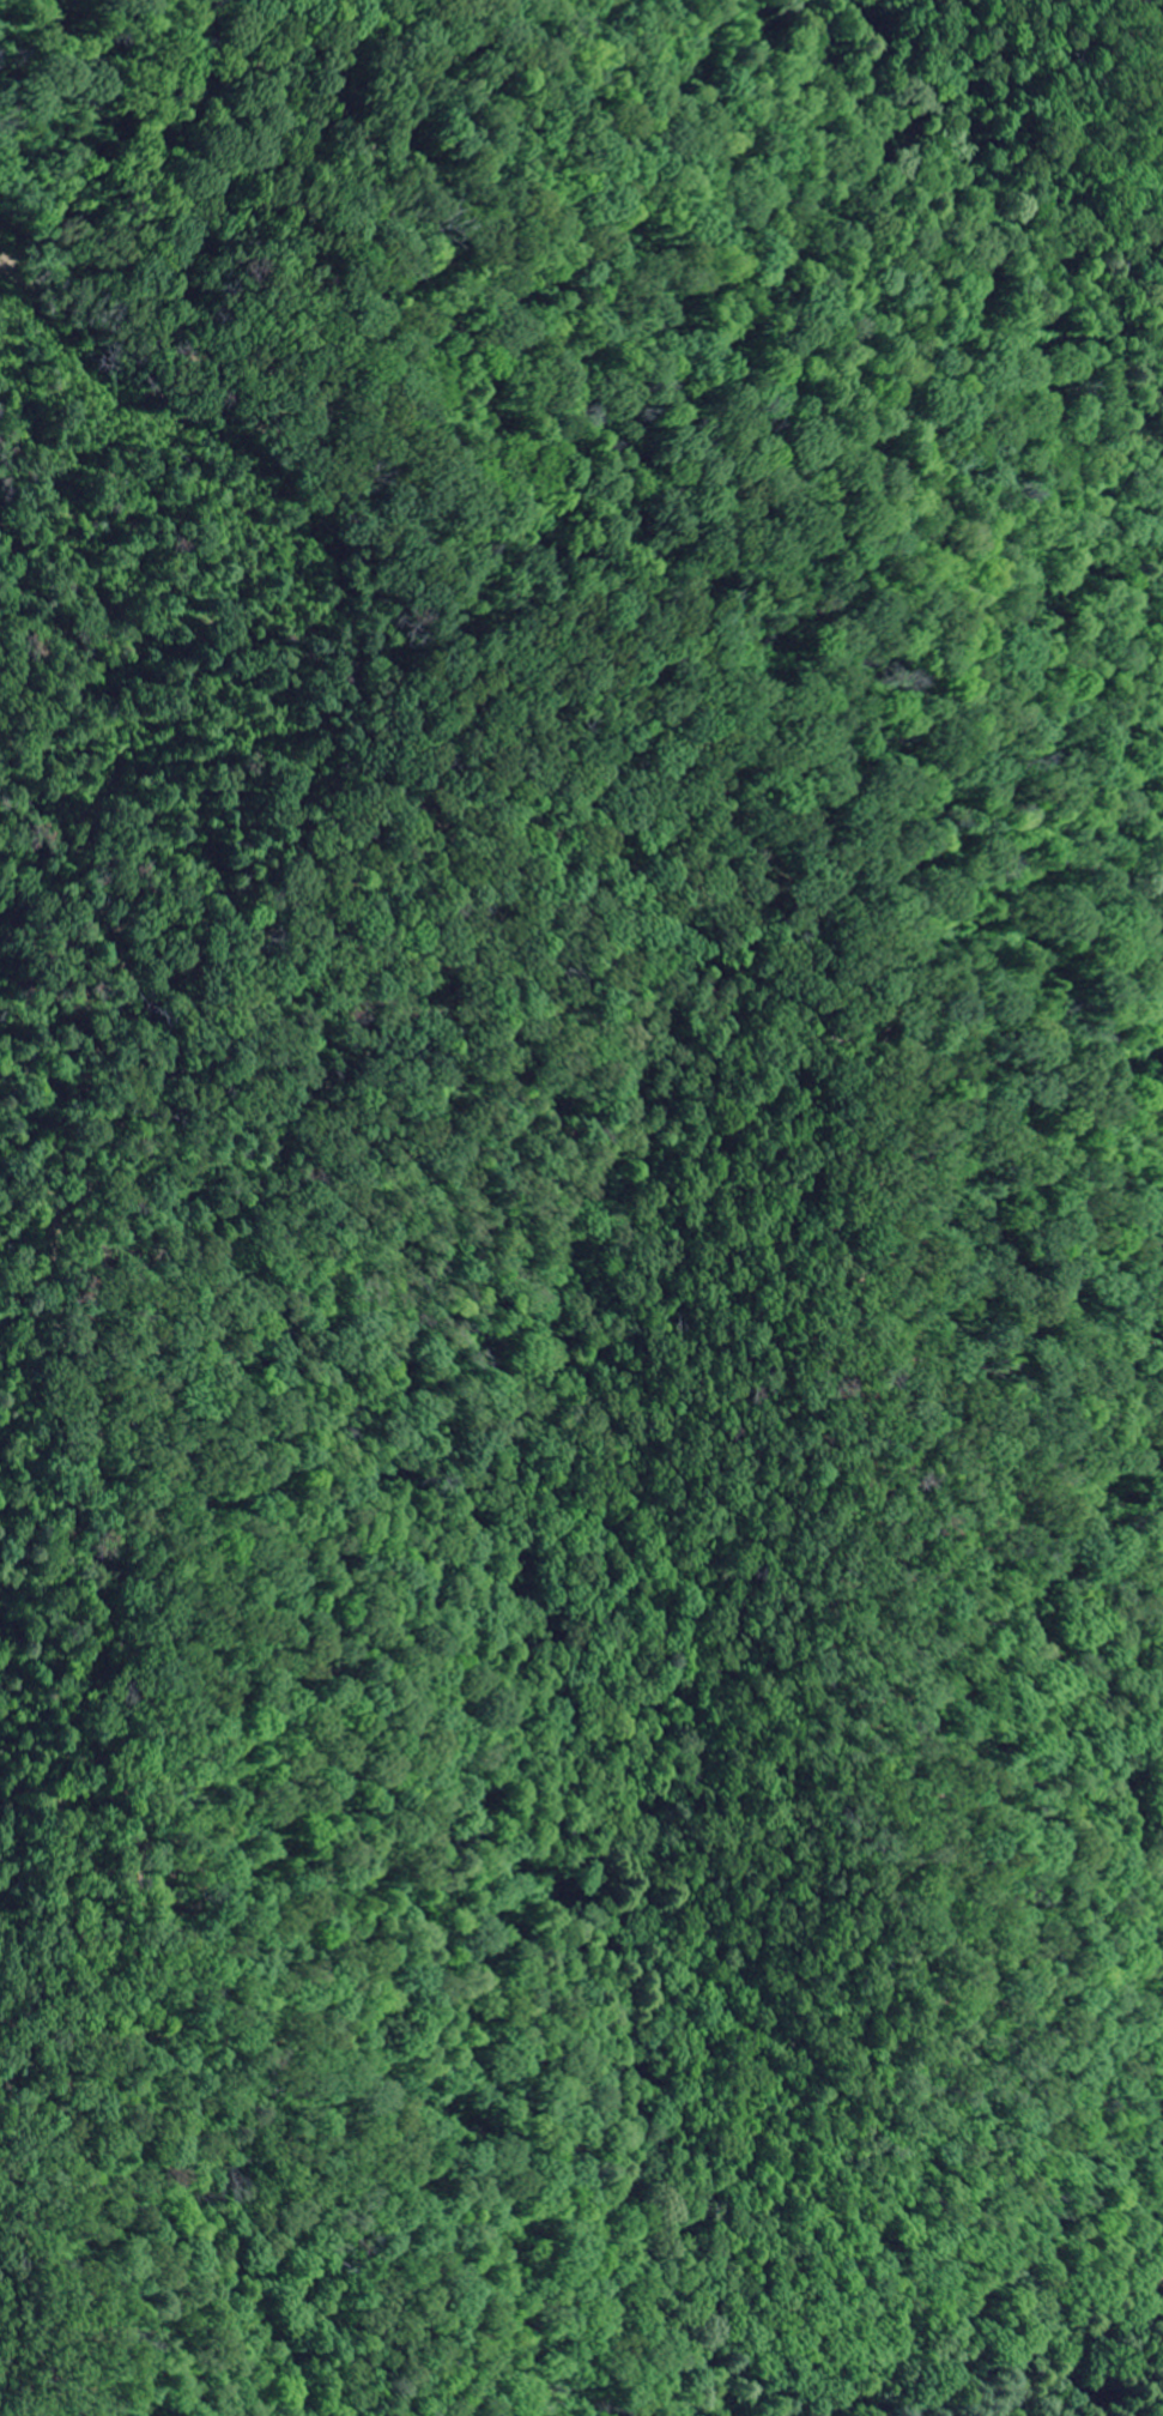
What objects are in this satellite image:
road: (985, 256)
road: (1048, 2329)

